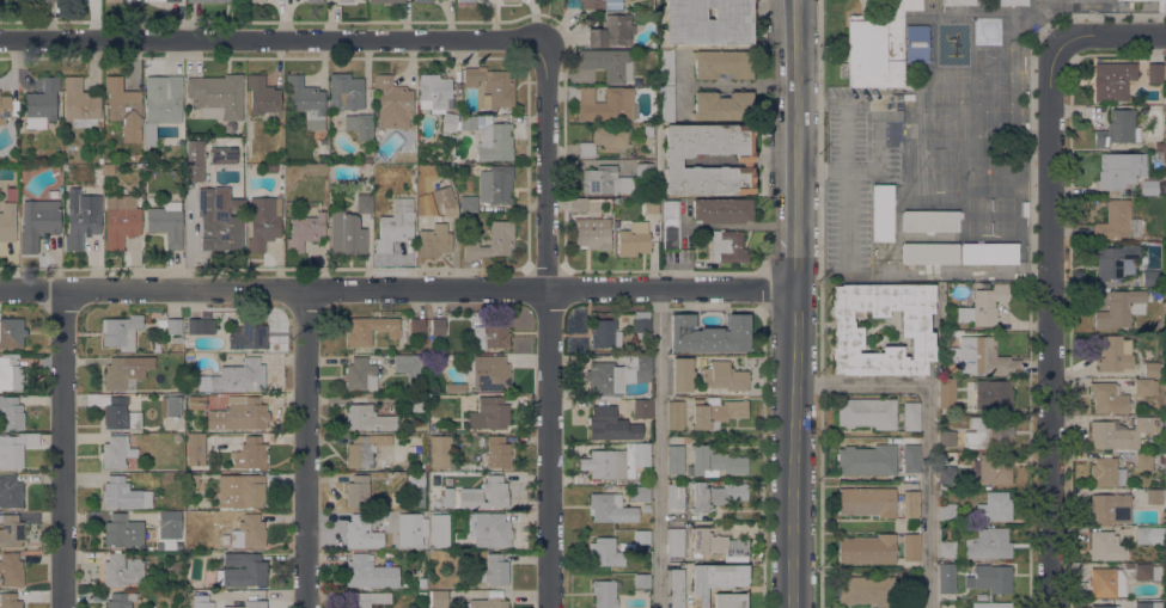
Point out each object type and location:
building: (164, 0)
building: (344, 0)
building: (511, 0)
building: (5, 1)
building: (44, 1)
building: (112, 1)
building: (209, 1)
building: (256, 1)
building: (315, 1)
building: (385, 1)
building: (423, 1)
building: (465, 1)
building: (958, 2)
building: (1009, 2)
building: (600, 4)
building: (1160, 6)
building: (708, 22)
building: (611, 30)
road: (1110, 38)
road: (274, 39)
building: (916, 44)
building: (878, 48)
building: (608, 63)
building: (722, 65)
building: (1165, 67)
building: (666, 68)
building: (1154, 70)
building: (1112, 81)
building: (493, 86)
building: (344, 90)
building: (433, 91)
building: (218, 96)
building: (262, 96)
building: (164, 99)
building: (306, 102)
building: (80, 103)
building: (392, 103)
building: (42, 104)
building: (605, 104)
building: (666, 105)
building: (722, 105)
building: (5, 109)
building: (124, 109)
building: (448, 123)
building: (469, 123)
building: (360, 125)
building: (1118, 129)
building: (648, 130)
road: (875, 136)
building: (604, 140)
building: (323, 141)
building: (495, 142)
building: (1160, 146)
building: (368, 152)
building: (224, 155)
building: (366, 160)
building: (744, 160)
building: (195, 161)
building: (322, 161)
building: (24, 167)
building: (426, 170)
building: (643, 170)
building: (1119, 170)
building: (606, 180)
road: (847, 184)
building: (496, 185)
parking lot: (868, 186)
building: (1153, 186)
building: (60, 192)
building: (236, 194)
building: (469, 203)
building: (364, 204)
building: (578, 204)
building: (649, 205)
building: (721, 210)
building: (881, 213)
building: (81, 219)
building: (218, 221)
building: (929, 221)
building: (7, 222)
building: (38, 222)
building: (121, 222)
building: (1117, 222)
building: (166, 223)
building: (262, 223)
building: (671, 225)
building: (395, 226)
building: (304, 231)
building: (438, 232)
building: (346, 233)
building: (591, 233)
building: (634, 239)
building: (492, 241)
building: (728, 247)
building: (929, 253)
building: (988, 253)
building: (1116, 262)
building: (1149, 277)
road: (396, 291)
road: (793, 303)
building: (983, 306)
building: (1119, 309)
building: (207, 315)
road: (549, 321)
building: (161, 324)
building: (642, 324)
road: (1052, 324)
building: (173, 326)
building: (200, 326)
building: (417, 326)
building: (438, 326)
building: (371, 330)
building: (914, 330)
building: (121, 332)
building: (11, 333)
building: (248, 334)
building: (490, 334)
building: (605, 334)
building: (708, 334)
building: (178, 339)
building: (1115, 355)
building: (189, 356)
building: (984, 357)
building: (410, 368)
building: (1152, 369)
building: (126, 370)
building: (10, 374)
building: (489, 374)
building: (360, 375)
building: (618, 375)
building: (682, 375)
building: (724, 376)
building: (236, 377)
building: (456, 387)
building: (1144, 387)
building: (947, 394)
building: (993, 394)
building: (1109, 398)
building: (196, 403)
building: (416, 404)
building: (170, 406)
building: (642, 409)
building: (116, 412)
building: (715, 412)
building: (867, 412)
building: (11, 413)
building: (488, 413)
building: (238, 414)
building: (674, 414)
building: (910, 416)
building: (367, 418)
building: (608, 425)
road: (927, 430)
building: (987, 432)
building: (1122, 434)
building: (176, 436)
building: (946, 438)
building: (195, 447)
building: (16, 449)
road: (62, 449)
road: (304, 449)
road: (660, 449)
building: (366, 450)
building: (439, 452)
building: (116, 453)
building: (497, 453)
building: (250, 454)
building: (1165, 456)
building: (674, 459)
building: (911, 459)
building: (866, 460)
building: (1161, 460)
building: (616, 461)
building: (714, 461)
building: (1143, 461)
building: (421, 466)
building: (993, 468)
building: (1106, 472)
building: (946, 474)
building: (435, 478)
building: (416, 489)
building: (10, 491)
building: (240, 491)
building: (356, 491)
building: (641, 493)
building: (123, 495)
building: (471, 495)
building: (715, 495)
building: (1154, 496)
building: (674, 498)
building: (866, 502)
building: (911, 504)
building: (994, 506)
building: (1110, 508)
building: (610, 509)
building: (947, 511)
building: (1165, 517)
building: (169, 520)
building: (187, 520)
building: (408, 529)
building: (488, 529)
building: (11, 530)
building: (439, 530)
building: (122, 532)
building: (249, 532)
building: (364, 533)
building: (1144, 535)
building: (641, 538)
building: (1161, 541)
building: (674, 542)
building: (716, 543)
building: (988, 543)
building: (1104, 546)
building: (911, 547)
building: (867, 549)
building: (946, 549)
building: (605, 552)
building: (1129, 565)
building: (175, 566)
building: (11, 570)
building: (121, 570)
building: (242, 570)
building: (492, 570)
building: (1147, 572)
building: (368, 573)
building: (715, 578)
building: (946, 578)
building: (990, 578)
building: (641, 581)
building: (422, 582)
building: (1106, 583)
building: (676, 588)
building: (863, 589)
building: (604, 594)
building: (911, 594)
building: (421, 596)
building: (367, 598)
building: (439, 598)
building: (120, 600)
building: (8, 601)
building: (201, 601)
building: (246, 601)
building: (729, 601)
building: (489, 603)
building: (990, 604)
building: (1148, 604)
building: (1104, 607)

